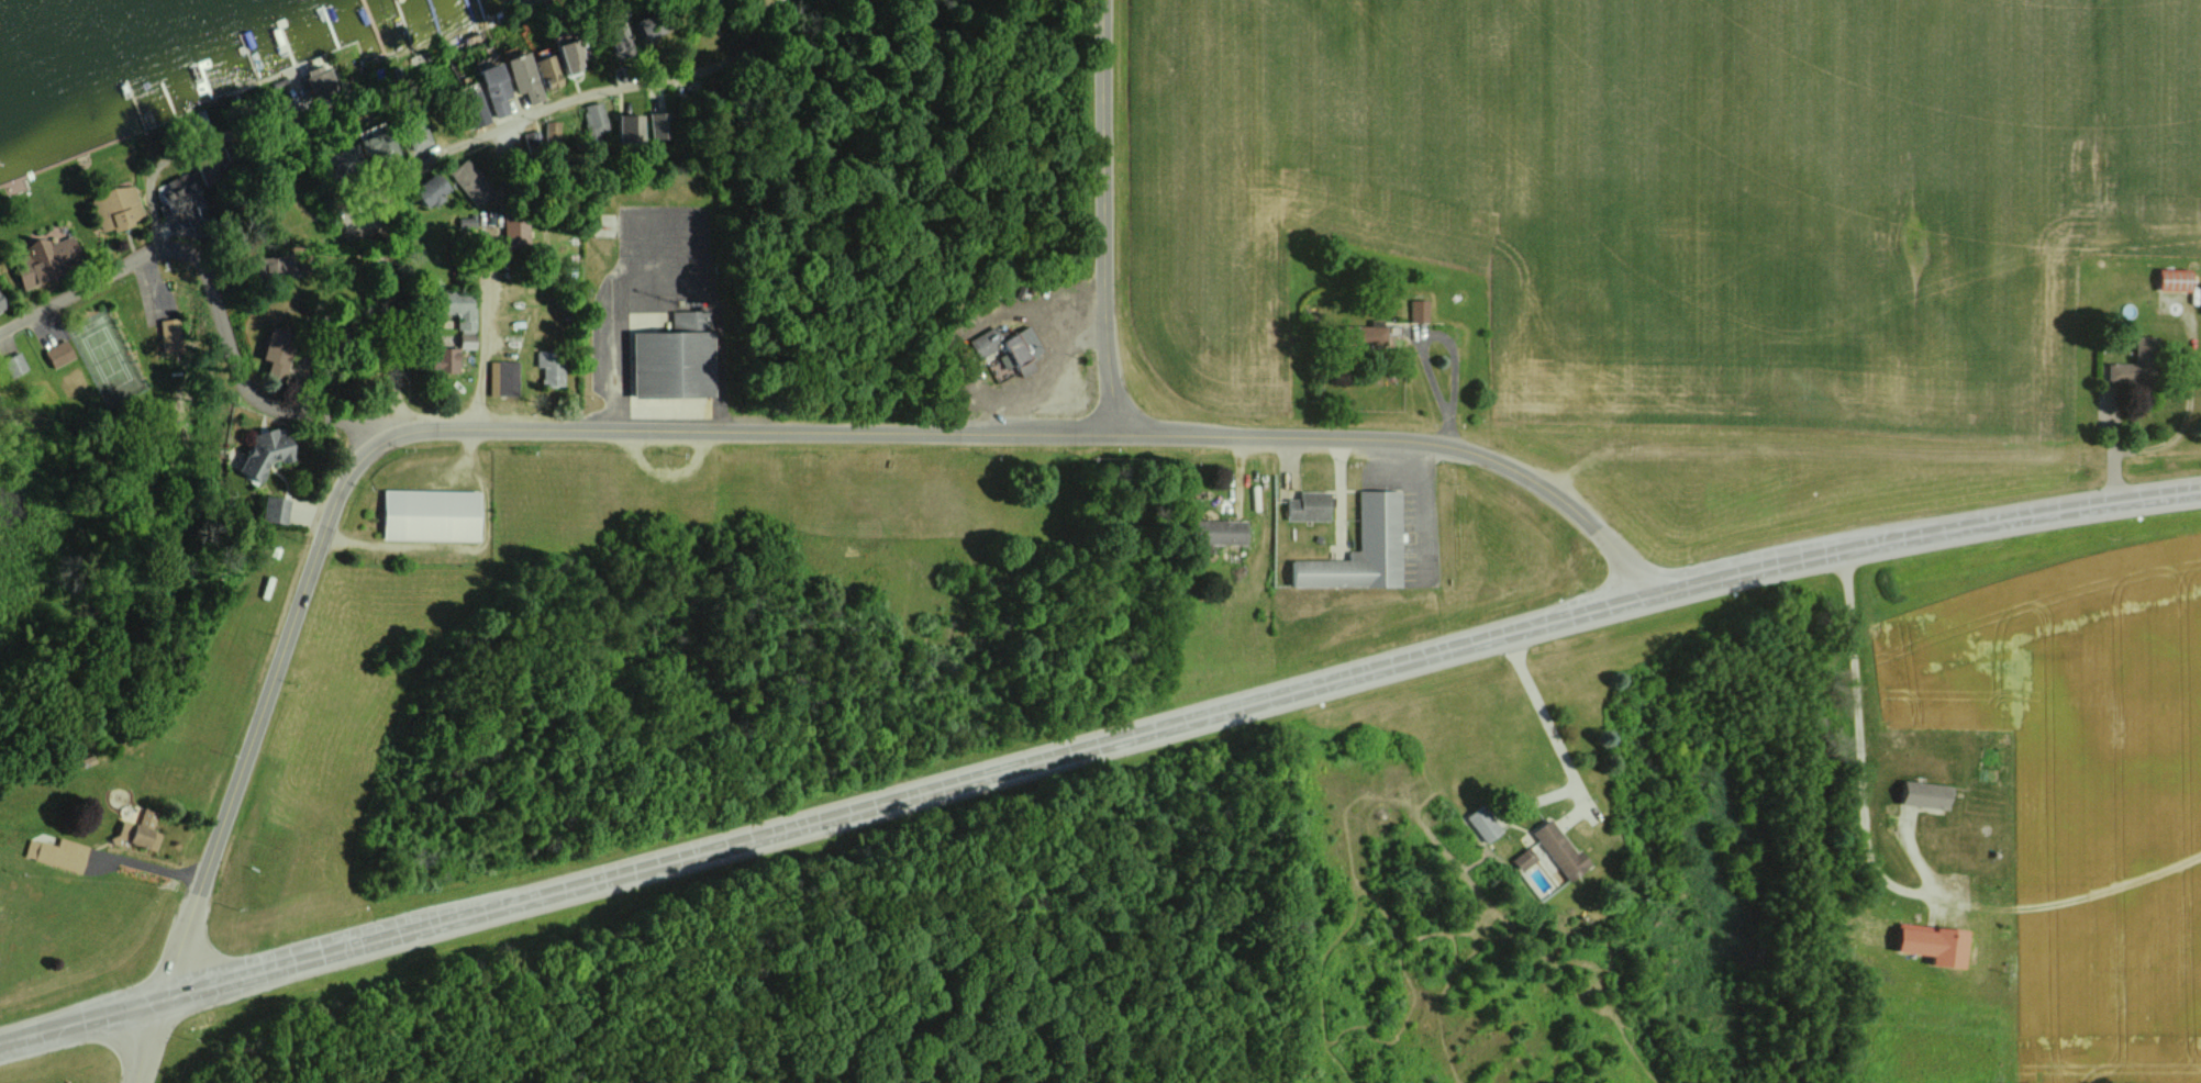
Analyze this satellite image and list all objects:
building: (649, 26)
building: (573, 56)
building: (548, 68)
building: (525, 77)
building: (320, 80)
building: (496, 88)
building: (478, 114)
building: (594, 119)
building: (656, 124)
building: (631, 127)
building: (553, 131)
road: (477, 133)
building: (418, 137)
building: (533, 144)
building: (378, 145)
building: (479, 176)
building: (433, 189)
building: (118, 208)
road: (155, 212)
road: (1107, 215)
building: (515, 233)
building: (51, 259)
road: (665, 269)
building: (2176, 279)
road: (212, 292)
building: (2, 303)
building: (459, 309)
building: (1418, 311)
building: (173, 334)
building: (1371, 335)
building: (467, 340)
building: (986, 342)
building: (278, 350)
building: (1023, 350)
road: (480, 353)
building: (59, 354)
building: (447, 359)
building: (676, 359)
building: (14, 365)
building: (2135, 365)
building: (551, 367)
building: (503, 378)
road: (396, 423)
road: (1410, 438)
road: (2106, 444)
building: (267, 451)
building: (1309, 506)
building: (275, 509)
road: (1423, 509)
building: (432, 514)
building: (1223, 532)
building: (1363, 549)
road: (1546, 719)
road: (1856, 740)
road: (1096, 744)
building: (1926, 795)
building: (1483, 824)
building: (138, 831)
building: (1560, 850)
building: (58, 853)
building: (1523, 859)
building: (1936, 945)

